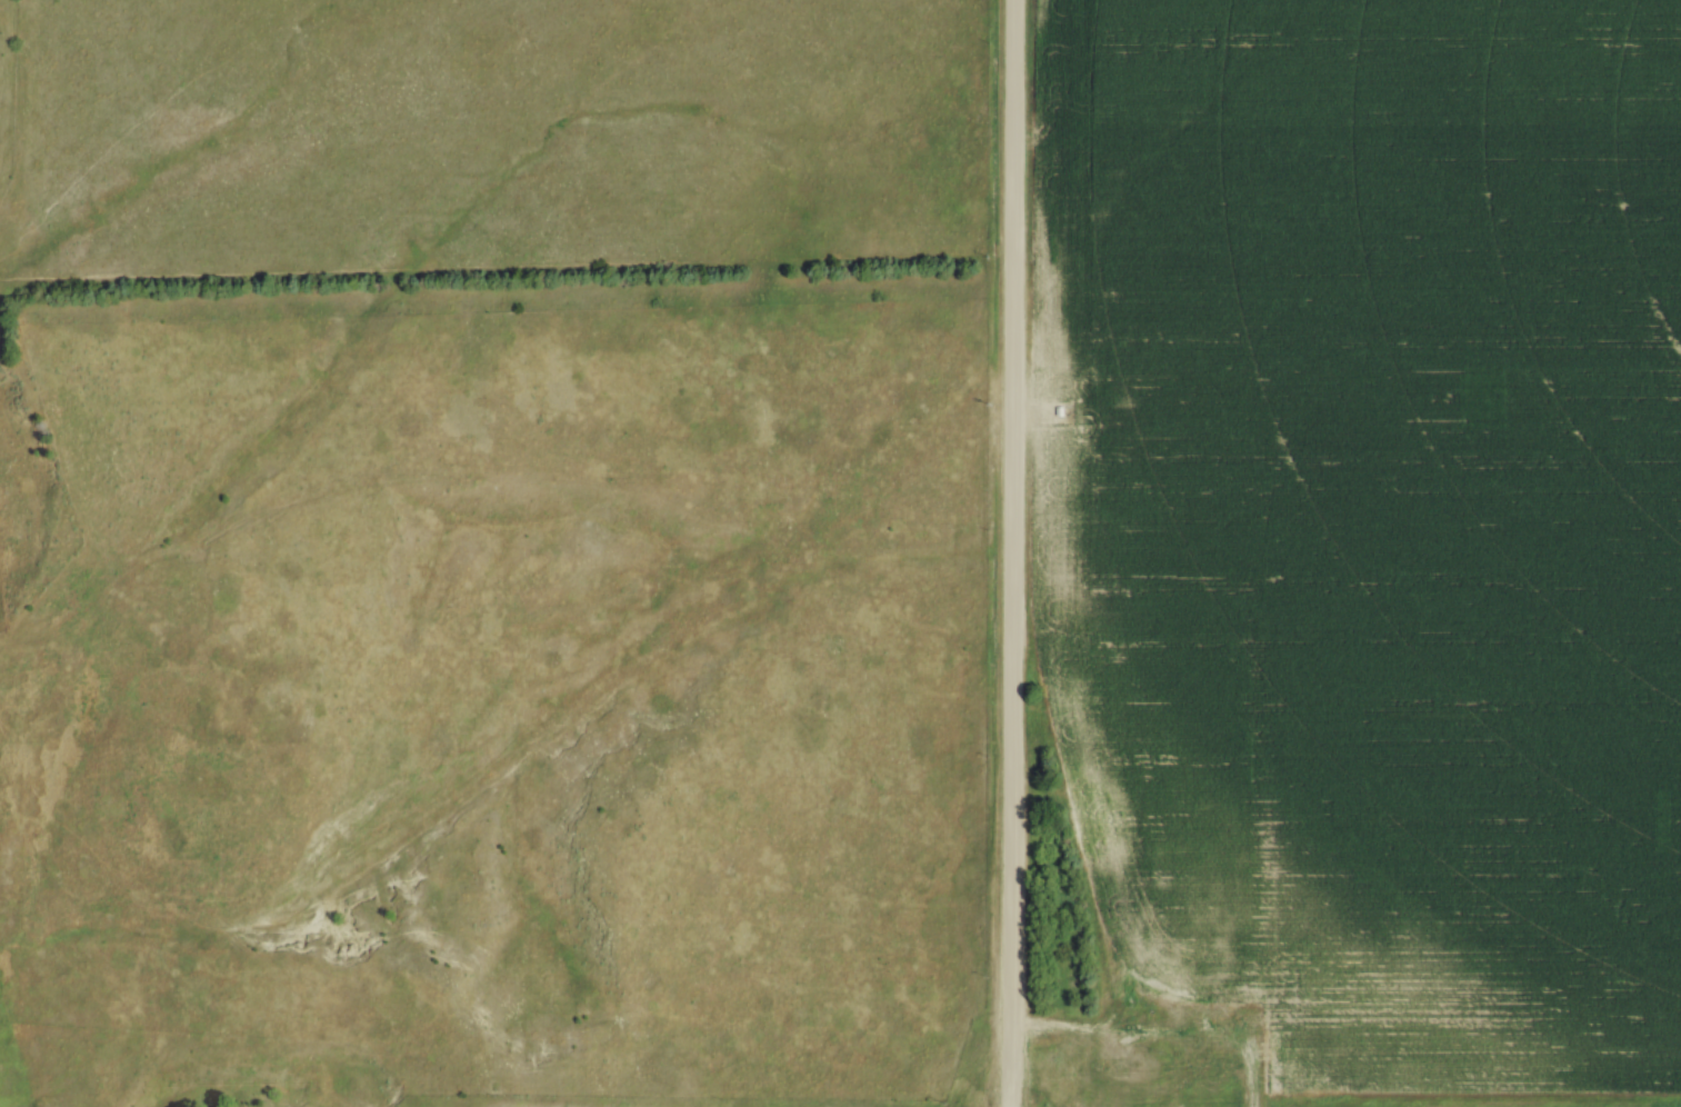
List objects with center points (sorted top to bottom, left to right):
road: (1012, 553)

